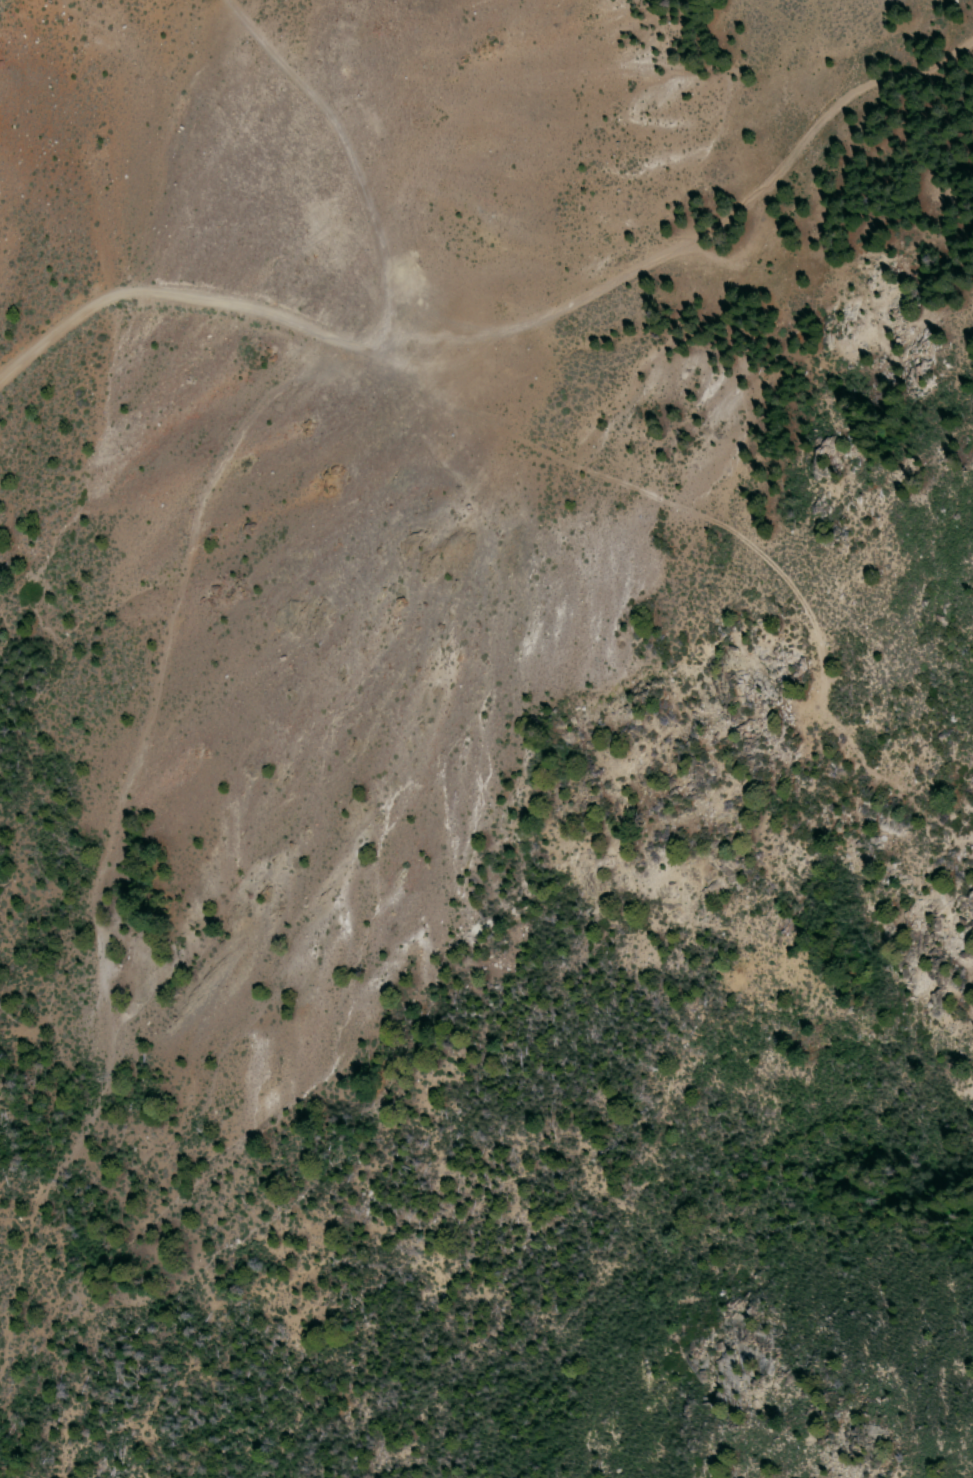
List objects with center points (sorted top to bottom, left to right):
road: (355, 157)
road: (695, 245)
road: (177, 289)
road: (649, 494)
road: (103, 837)

